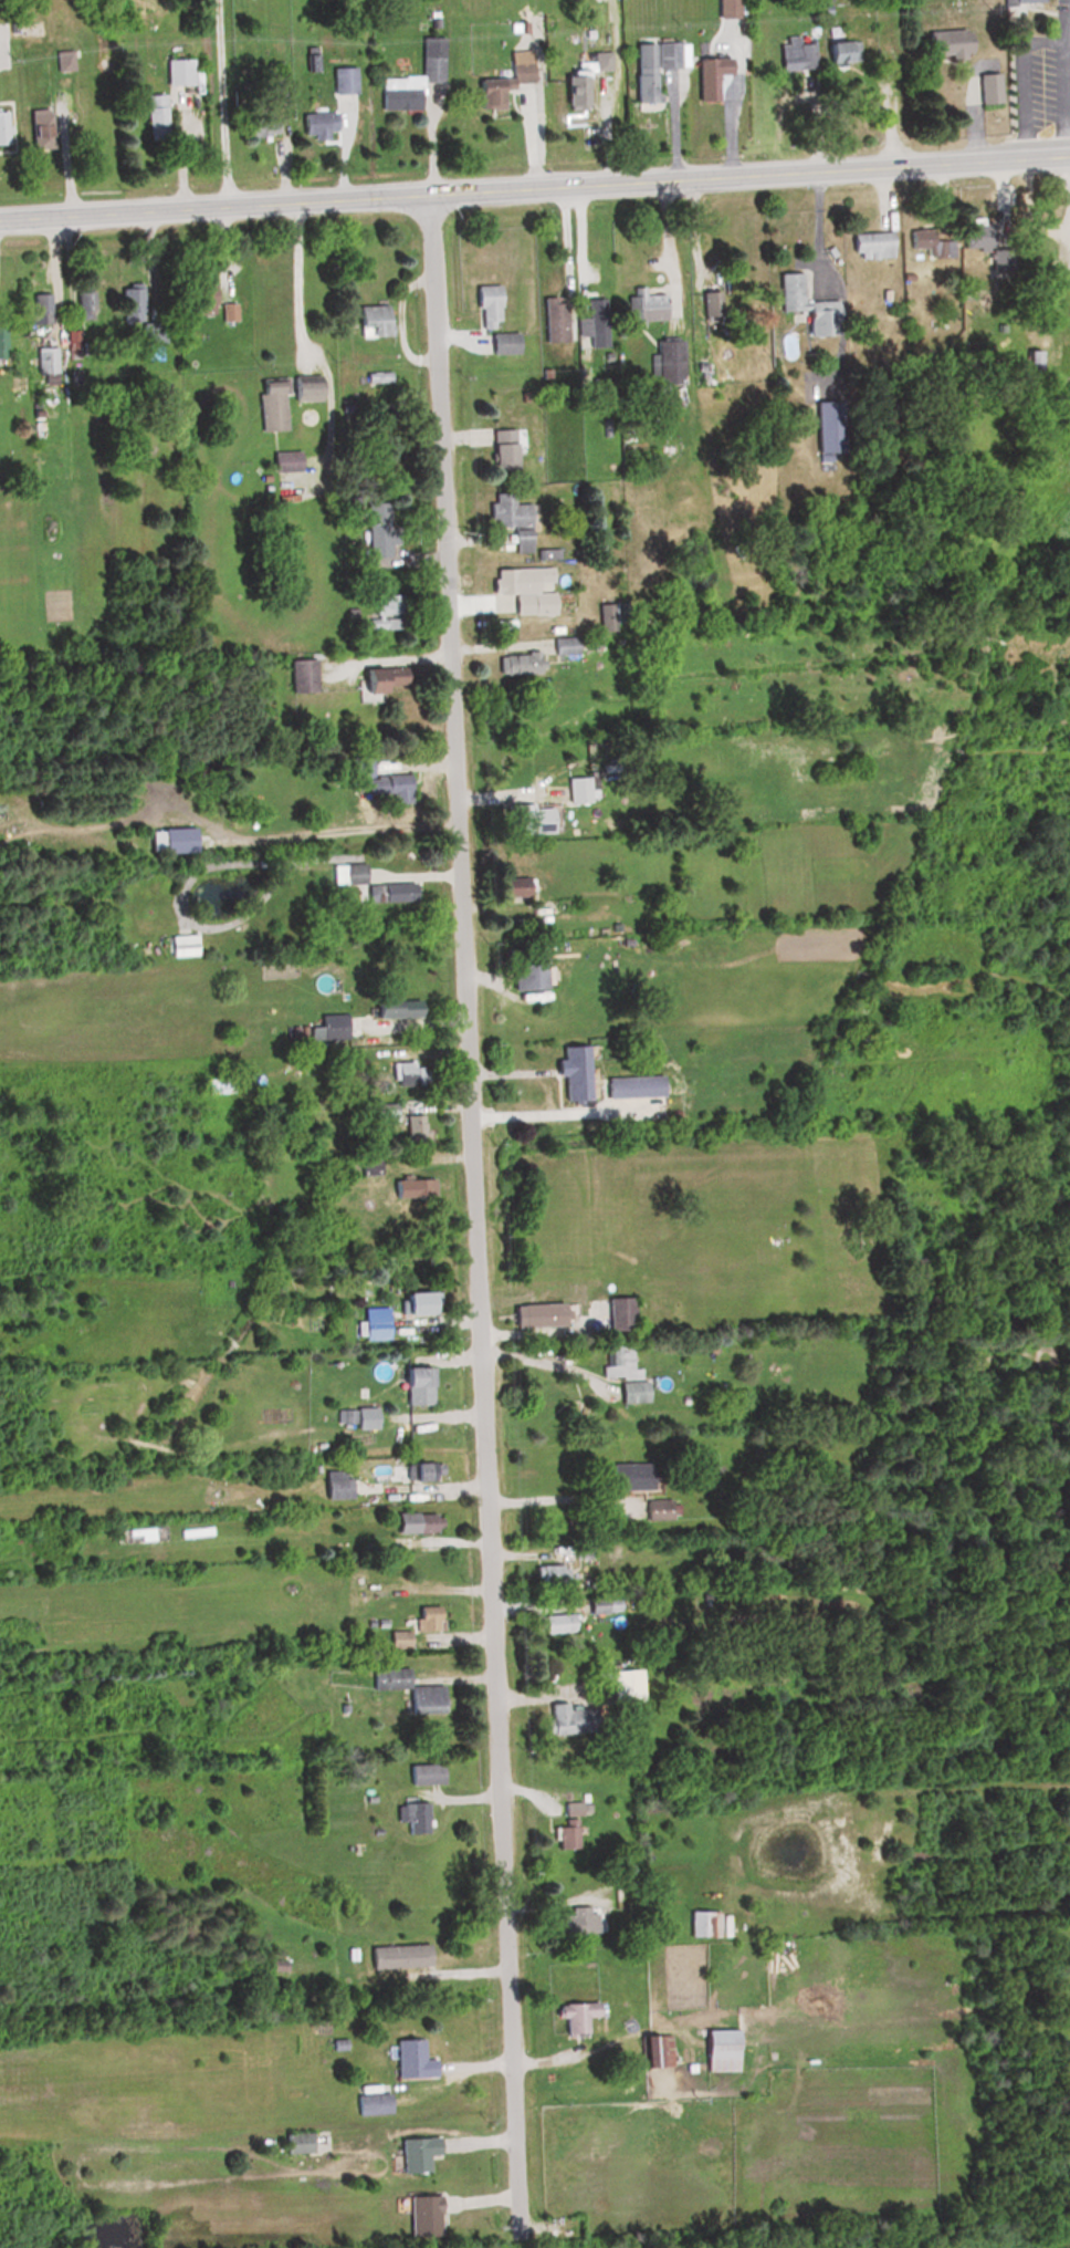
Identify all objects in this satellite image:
building: (725, 8)
building: (946, 42)
building: (840, 52)
building: (795, 54)
building: (64, 58)
building: (601, 60)
building: (650, 66)
building: (177, 71)
building: (709, 75)
building: (412, 79)
building: (343, 80)
road: (1025, 80)
building: (501, 82)
road: (1067, 85)
building: (980, 87)
road: (701, 89)
building: (570, 92)
road: (223, 104)
building: (154, 116)
building: (316, 124)
building: (1, 127)
building: (255, 127)
road: (64, 159)
road: (535, 189)
road: (816, 231)
building: (974, 235)
building: (929, 242)
building: (869, 243)
road: (301, 284)
building: (197, 294)
building: (83, 304)
building: (130, 304)
building: (646, 305)
building: (804, 305)
building: (486, 306)
building: (41, 309)
building: (227, 312)
building: (554, 319)
building: (370, 321)
building: (594, 322)
building: (153, 333)
building: (73, 340)
building: (1, 341)
building: (504, 343)
building: (1029, 358)
building: (663, 362)
building: (45, 364)
building: (305, 389)
building: (270, 405)
building: (827, 427)
building: (502, 448)
building: (283, 461)
building: (506, 511)
building: (378, 528)
building: (520, 544)
building: (552, 553)
building: (521, 587)
building: (392, 604)
building: (560, 645)
building: (515, 663)
building: (296, 675)
building: (378, 679)
building: (375, 779)
building: (576, 790)
building: (525, 819)
road: (332, 834)
building: (174, 840)
road: (227, 865)
building: (346, 874)
building: (506, 886)
building: (392, 892)
building: (179, 945)
building: (524, 970)
building: (391, 1011)
building: (327, 1027)
building: (408, 1072)
building: (571, 1072)
building: (631, 1085)
building: (384, 1110)
road: (547, 1118)
building: (413, 1126)
building: (407, 1187)
road: (471, 1221)
building: (417, 1302)
building: (616, 1312)
building: (534, 1314)
building: (617, 1362)
road: (543, 1364)
building: (415, 1386)
building: (631, 1392)
building: (420, 1471)
building: (628, 1477)
building: (333, 1488)
road: (420, 1489)
road: (559, 1490)
building: (657, 1510)
building: (413, 1522)
building: (549, 1574)
building: (426, 1619)
building: (554, 1623)
building: (407, 1689)
building: (566, 1719)
building: (424, 1773)
building: (415, 1819)
building: (564, 1838)
building: (573, 1922)
building: (700, 1924)
building: (395, 1957)
building: (574, 2017)
building: (653, 2051)
building: (715, 2051)
building: (410, 2060)
building: (370, 2103)
building: (295, 2143)
building: (415, 2153)
building: (422, 2215)

